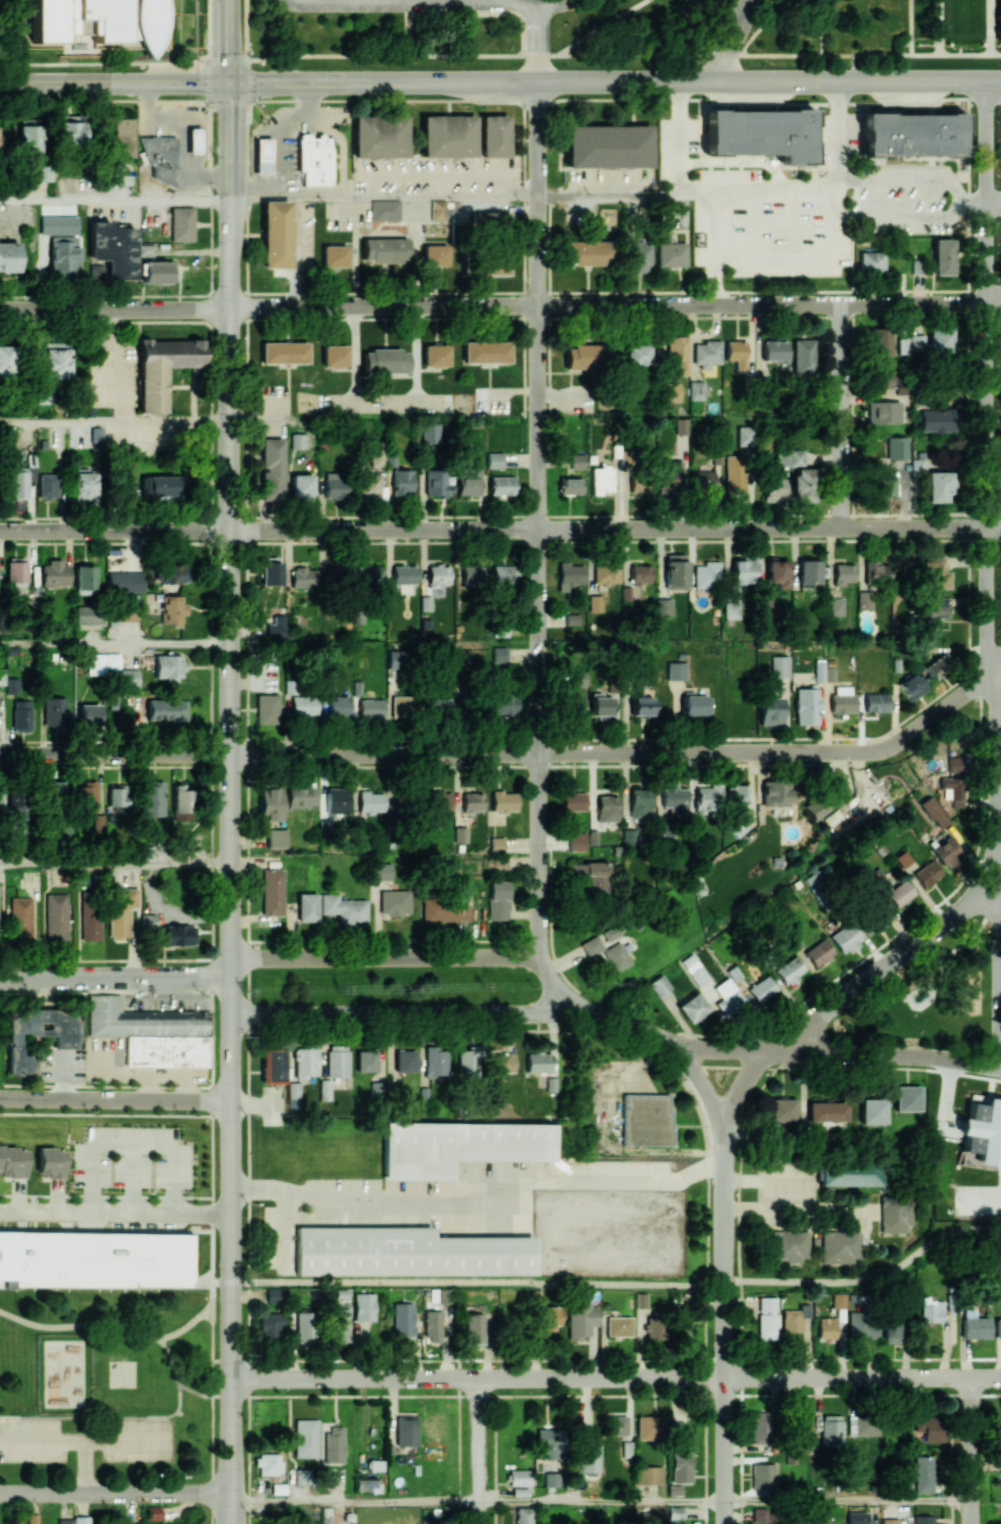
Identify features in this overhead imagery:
road: (445, 2)
road: (487, 2)
building: (90, 23)
road: (908, 27)
road: (937, 27)
road: (992, 27)
park: (873, 34)
road: (731, 38)
road: (229, 41)
road: (535, 42)
road: (442, 54)
road: (778, 54)
road: (861, 79)
road: (475, 80)
road: (114, 82)
traffic signals: (229, 82)
road: (615, 99)
road: (114, 100)
building: (69, 128)
road: (282, 131)
building: (760, 133)
building: (911, 134)
building: (379, 136)
building: (447, 136)
building: (493, 136)
building: (28, 138)
building: (122, 138)
road: (679, 138)
road: (345, 143)
building: (608, 146)
building: (263, 156)
building: (159, 157)
building: (314, 159)
building: (43, 172)
road: (913, 183)
road: (382, 195)
road: (687, 195)
road: (114, 201)
road: (993, 201)
building: (385, 210)
building: (438, 210)
road: (913, 216)
building: (490, 220)
building: (182, 223)
building: (58, 225)
road: (712, 228)
building: (275, 234)
building: (112, 248)
building: (384, 249)
road: (295, 251)
building: (586, 252)
building: (435, 254)
building: (671, 254)
road: (839, 254)
building: (63, 255)
building: (8, 256)
building: (334, 256)
building: (639, 256)
building: (942, 256)
building: (872, 261)
building: (491, 265)
building: (157, 271)
road: (615, 306)
road: (114, 310)
building: (939, 339)
building: (880, 341)
building: (916, 342)
building: (902, 345)
building: (774, 350)
building: (486, 351)
building: (284, 352)
building: (736, 352)
building: (677, 353)
building: (706, 353)
building: (435, 355)
building: (637, 355)
building: (334, 356)
building: (585, 356)
building: (803, 356)
road: (354, 357)
road: (415, 358)
building: (6, 360)
building: (55, 360)
building: (385, 360)
building: (162, 368)
building: (884, 377)
road: (984, 377)
road: (509, 390)
building: (697, 390)
building: (882, 412)
road: (262, 417)
road: (841, 417)
building: (937, 420)
road: (114, 422)
road: (275, 425)
building: (682, 425)
building: (96, 434)
building: (429, 434)
building: (745, 435)
building: (298, 440)
building: (896, 448)
building: (377, 457)
building: (790, 457)
building: (494, 460)
building: (577, 460)
building: (271, 468)
building: (735, 474)
building: (602, 479)
building: (671, 479)
building: (468, 481)
building: (703, 481)
building: (401, 482)
building: (438, 482)
building: (639, 483)
building: (17, 484)
building: (84, 484)
building: (802, 484)
building: (48, 485)
building: (335, 485)
building: (501, 485)
building: (883, 485)
building: (937, 485)
building: (160, 486)
building: (301, 486)
building: (367, 486)
building: (570, 486)
building: (773, 488)
road: (115, 529)
road: (615, 529)
road: (969, 529)
road: (537, 551)
building: (270, 570)
building: (743, 570)
building: (675, 571)
building: (874, 571)
building: (174, 572)
building: (777, 572)
building: (808, 572)
building: (936, 573)
building: (17, 574)
building: (54, 574)
building: (438, 574)
building: (504, 574)
building: (606, 574)
building: (640, 574)
building: (843, 574)
building: (370, 575)
building: (472, 575)
building: (570, 575)
building: (706, 575)
building: (303, 577)
building: (404, 577)
building: (85, 579)
building: (125, 581)
building: (627, 593)
building: (765, 598)
building: (863, 599)
building: (595, 603)
building: (663, 606)
building: (834, 606)
building: (731, 609)
building: (173, 610)
building: (89, 615)
building: (572, 619)
building: (276, 626)
building: (499, 629)
road: (114, 643)
road: (229, 650)
building: (499, 654)
building: (395, 658)
building: (462, 658)
building: (102, 663)
building: (168, 665)
building: (938, 665)
building: (779, 666)
road: (999, 668)
building: (675, 670)
building: (824, 672)
building: (2, 676)
building: (126, 677)
building: (579, 678)
building: (911, 686)
building: (12, 687)
building: (842, 699)
building: (876, 702)
building: (695, 703)
building: (601, 704)
building: (304, 705)
building: (641, 705)
building: (337, 706)
building: (403, 706)
building: (574, 706)
building: (806, 706)
building: (438, 707)
building: (266, 708)
building: (368, 708)
building: (167, 709)
building: (770, 710)
building: (54, 711)
building: (89, 714)
building: (21, 715)
road: (114, 753)
road: (625, 753)
building: (955, 763)
road: (999, 779)
building: (953, 790)
building: (55, 791)
building: (776, 792)
building: (117, 794)
building: (736, 794)
building: (87, 796)
building: (301, 796)
building: (673, 796)
building: (707, 798)
building: (153, 799)
building: (270, 800)
building: (334, 800)
building: (503, 800)
building: (442, 801)
building: (573, 801)
building: (640, 801)
building: (371, 802)
building: (472, 802)
building: (821, 802)
building: (182, 803)
building: (17, 806)
building: (607, 808)
building: (934, 811)
building: (0, 813)
building: (99, 823)
building: (61, 833)
building: (460, 834)
building: (275, 838)
building: (576, 841)
building: (496, 844)
building: (946, 852)
building: (903, 858)
road: (114, 864)
building: (381, 871)
building: (927, 873)
building: (591, 874)
building: (877, 880)
building: (814, 883)
building: (272, 892)
building: (899, 893)
building: (498, 900)
building: (394, 902)
building: (307, 907)
building: (343, 908)
building: (121, 911)
building: (445, 911)
building: (56, 916)
building: (20, 919)
building: (147, 921)
building: (90, 922)
building: (611, 932)
building: (178, 935)
building: (844, 937)
building: (591, 945)
road: (957, 947)
building: (818, 952)
building: (616, 957)
road: (385, 958)
building: (789, 970)
building: (696, 973)
road: (1000, 977)
road: (115, 979)
building: (659, 985)
power tower: (481, 987)
power tower: (335, 989)
building: (761, 989)
park: (967, 990)
building: (727, 997)
park: (929, 998)
road: (839, 1002)
building: (692, 1007)
road: (619, 1019)
building: (135, 1020)
building: (61, 1041)
building: (161, 1051)
building: (366, 1060)
building: (405, 1060)
building: (435, 1060)
building: (470, 1060)
building: (337, 1061)
building: (305, 1062)
building: (538, 1062)
building: (501, 1065)
building: (269, 1066)
building: (325, 1089)
building: (907, 1098)
road: (115, 1099)
building: (782, 1109)
building: (827, 1111)
building: (872, 1111)
building: (642, 1120)
building: (982, 1130)
road: (611, 1140)
road: (131, 1144)
building: (457, 1145)
building: (13, 1162)
building: (51, 1163)
building: (848, 1175)
road: (131, 1178)
road: (766, 1179)
road: (983, 1198)
road: (482, 1200)
road: (797, 1208)
road: (115, 1211)
building: (895, 1215)
road: (982, 1227)
building: (534, 1244)
building: (788, 1246)
building: (840, 1247)
building: (400, 1251)
building: (76, 1259)
road: (724, 1279)
road: (851, 1281)
road: (478, 1282)
building: (838, 1301)
building: (767, 1304)
building: (363, 1307)
building: (931, 1310)
building: (403, 1318)
building: (549, 1318)
building: (795, 1318)
building: (581, 1319)
building: (681, 1321)
building: (341, 1325)
building: (862, 1325)
building: (267, 1326)
building: (619, 1326)
building: (767, 1326)
building: (304, 1327)
building: (432, 1327)
building: (473, 1327)
building: (654, 1327)
building: (826, 1327)
building: (975, 1327)
building: (997, 1328)
building: (891, 1329)
road: (130, 1331)
road: (212, 1331)
road: (231, 1356)
road: (171, 1357)
road: (222, 1360)
road: (192, 1366)
park: (62, 1373)
park: (122, 1375)
road: (213, 1377)
road: (863, 1377)
road: (477, 1378)
park: (109, 1386)
road: (194, 1392)
road: (221, 1396)
road: (103, 1417)
building: (618, 1425)
building: (862, 1425)
building: (931, 1426)
building: (650, 1427)
building: (760, 1427)
building: (802, 1430)
building: (831, 1430)
building: (406, 1431)
building: (305, 1438)
parking lot: (139, 1439)
parking lot: (32, 1440)
road: (42, 1441)
road: (127, 1442)
road: (212, 1444)
building: (332, 1445)
road: (971, 1450)
road: (479, 1451)
building: (682, 1455)
building: (589, 1458)
building: (268, 1463)
road: (85, 1468)
building: (924, 1474)
building: (649, 1475)
building: (763, 1475)
building: (520, 1477)
building: (551, 1479)
building: (366, 1483)
building: (674, 1490)
road: (115, 1494)
road: (353, 1500)
road: (602, 1500)
road: (848, 1501)
road: (212, 1509)
road: (228, 1509)
road: (232, 1509)
road: (876, 1512)
building: (153, 1513)
building: (523, 1515)
building: (759, 1515)
building: (648, 1517)
building: (771, 1518)
building: (857, 1518)
building: (32, 1519)
building: (923, 1519)
building: (81, 1520)
building: (64, 1521)
building: (889, 1521)
building: (824, 1522)
building: (130, 1523)
building: (797, 1523)

